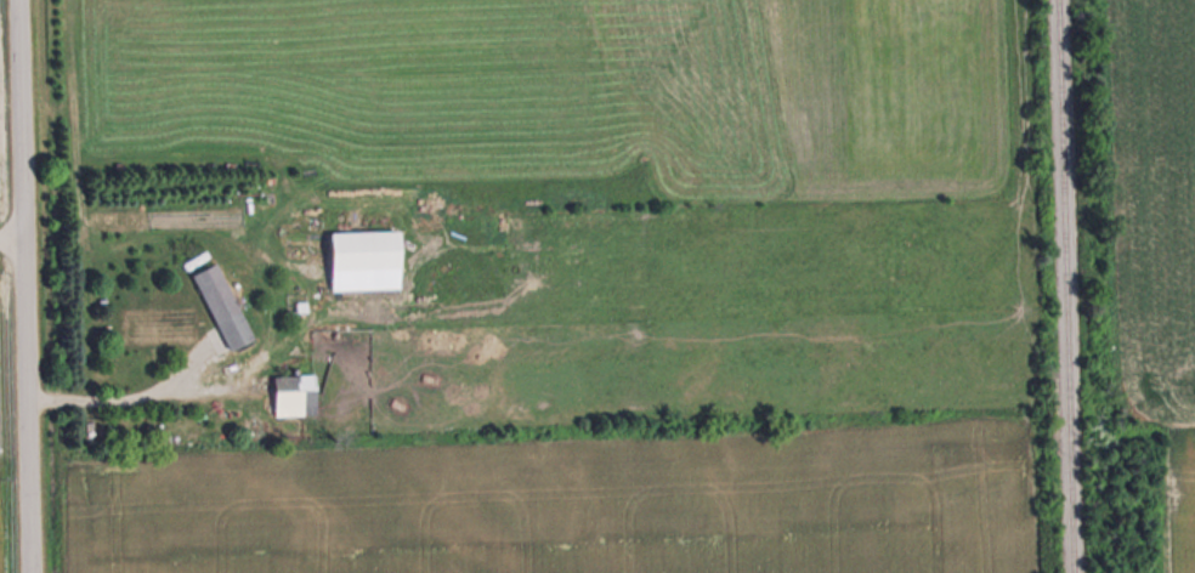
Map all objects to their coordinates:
building: (364, 259)
road: (18, 286)
railway: (1066, 286)
building: (222, 305)
building: (294, 393)

